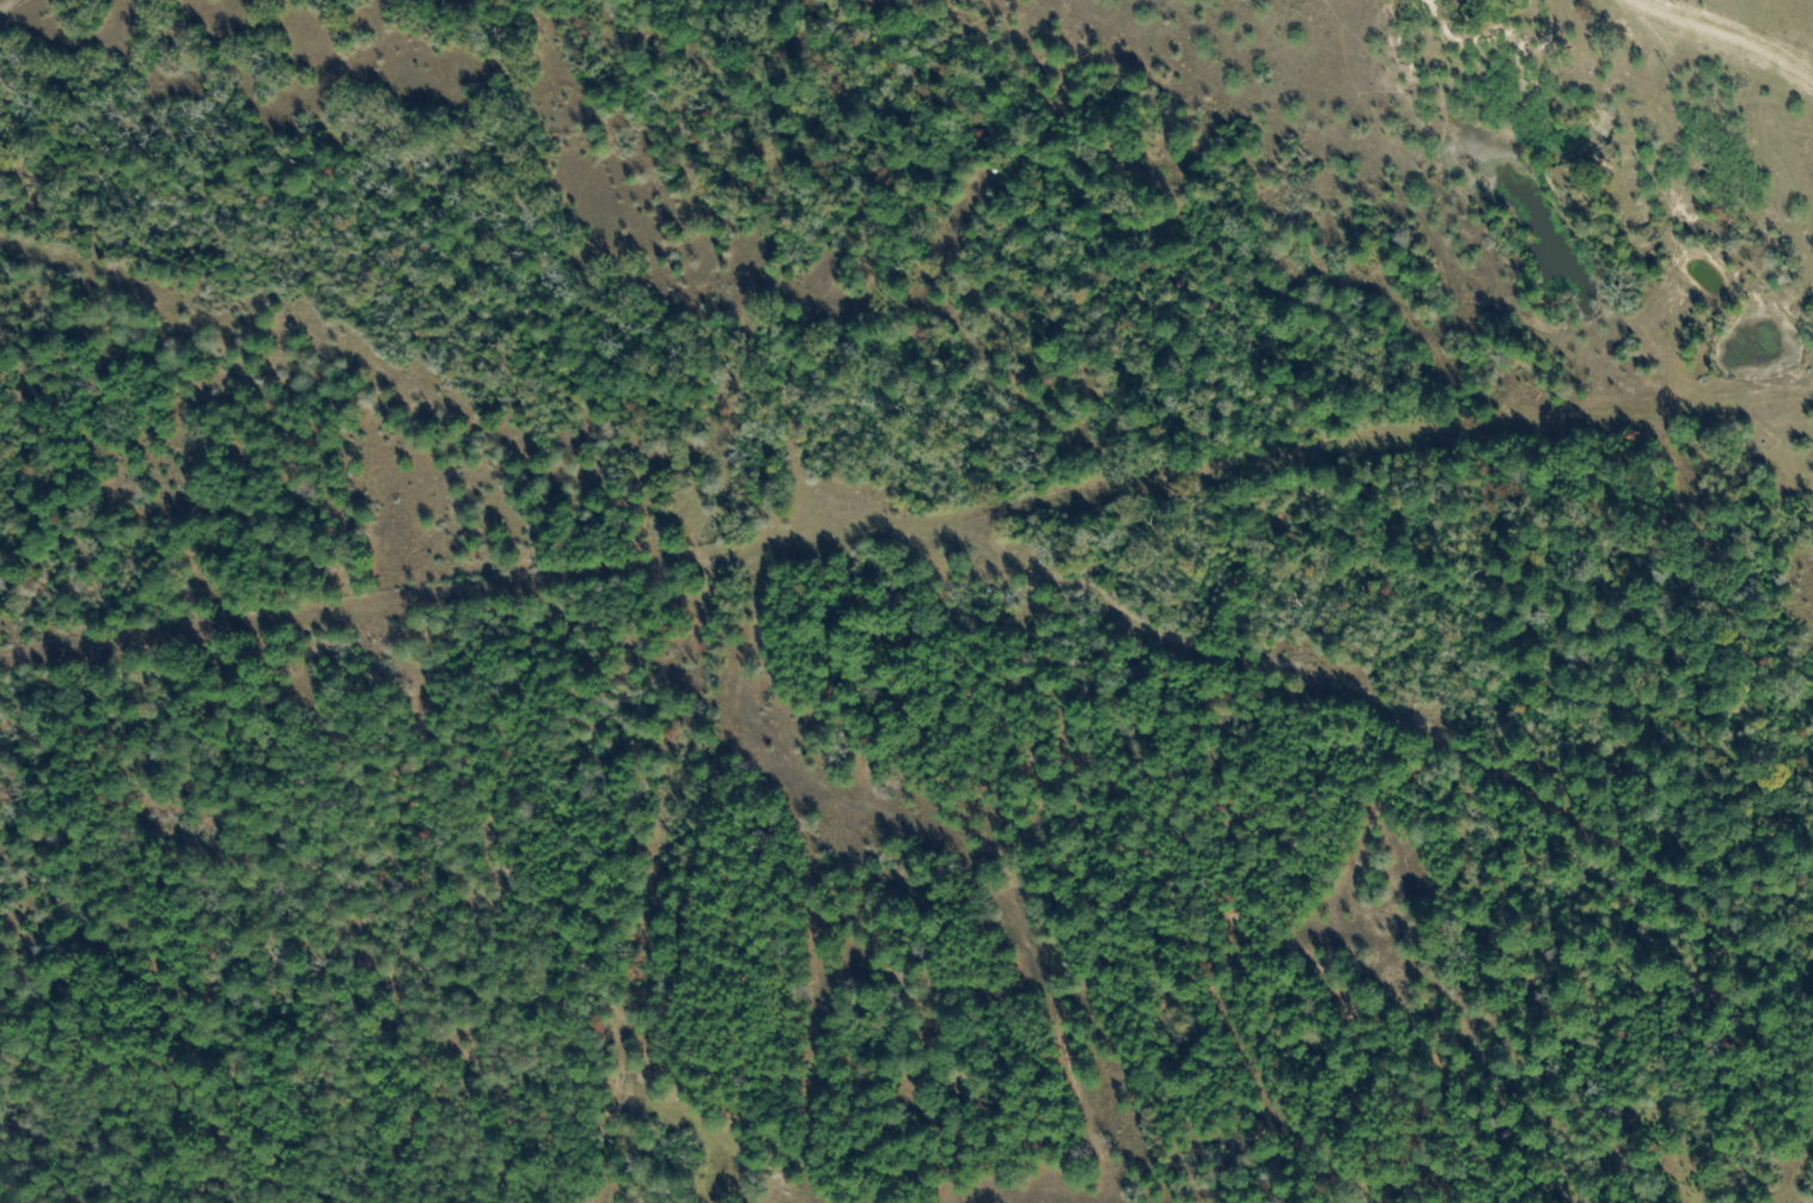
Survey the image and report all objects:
road: (1744, 25)

